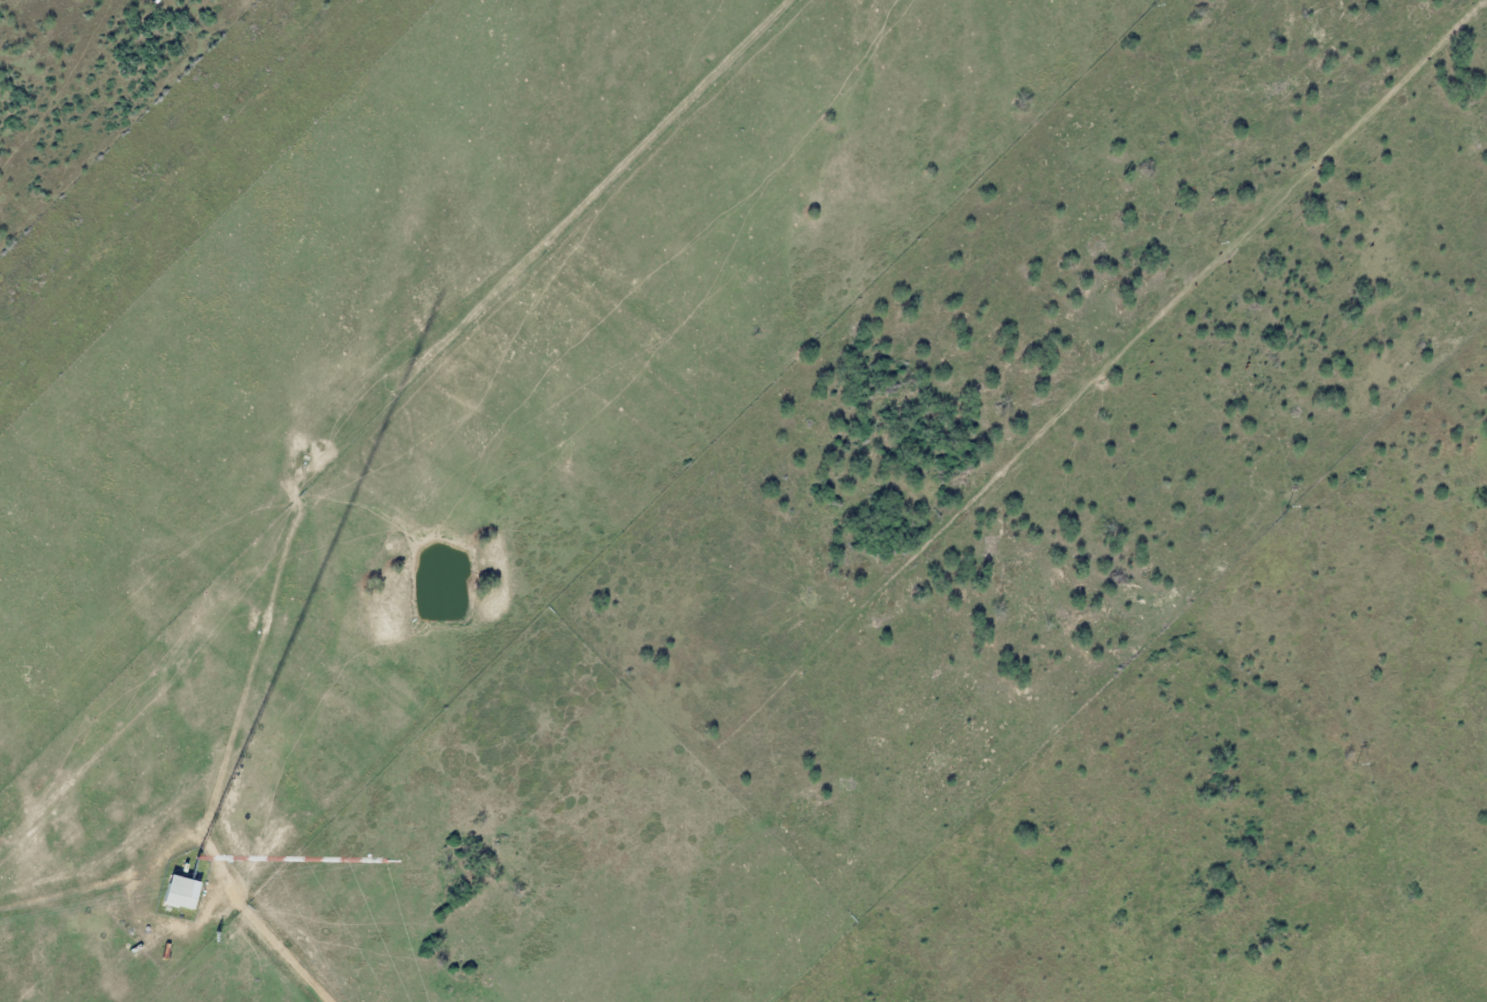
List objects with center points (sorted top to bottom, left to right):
building: (179, 891)

